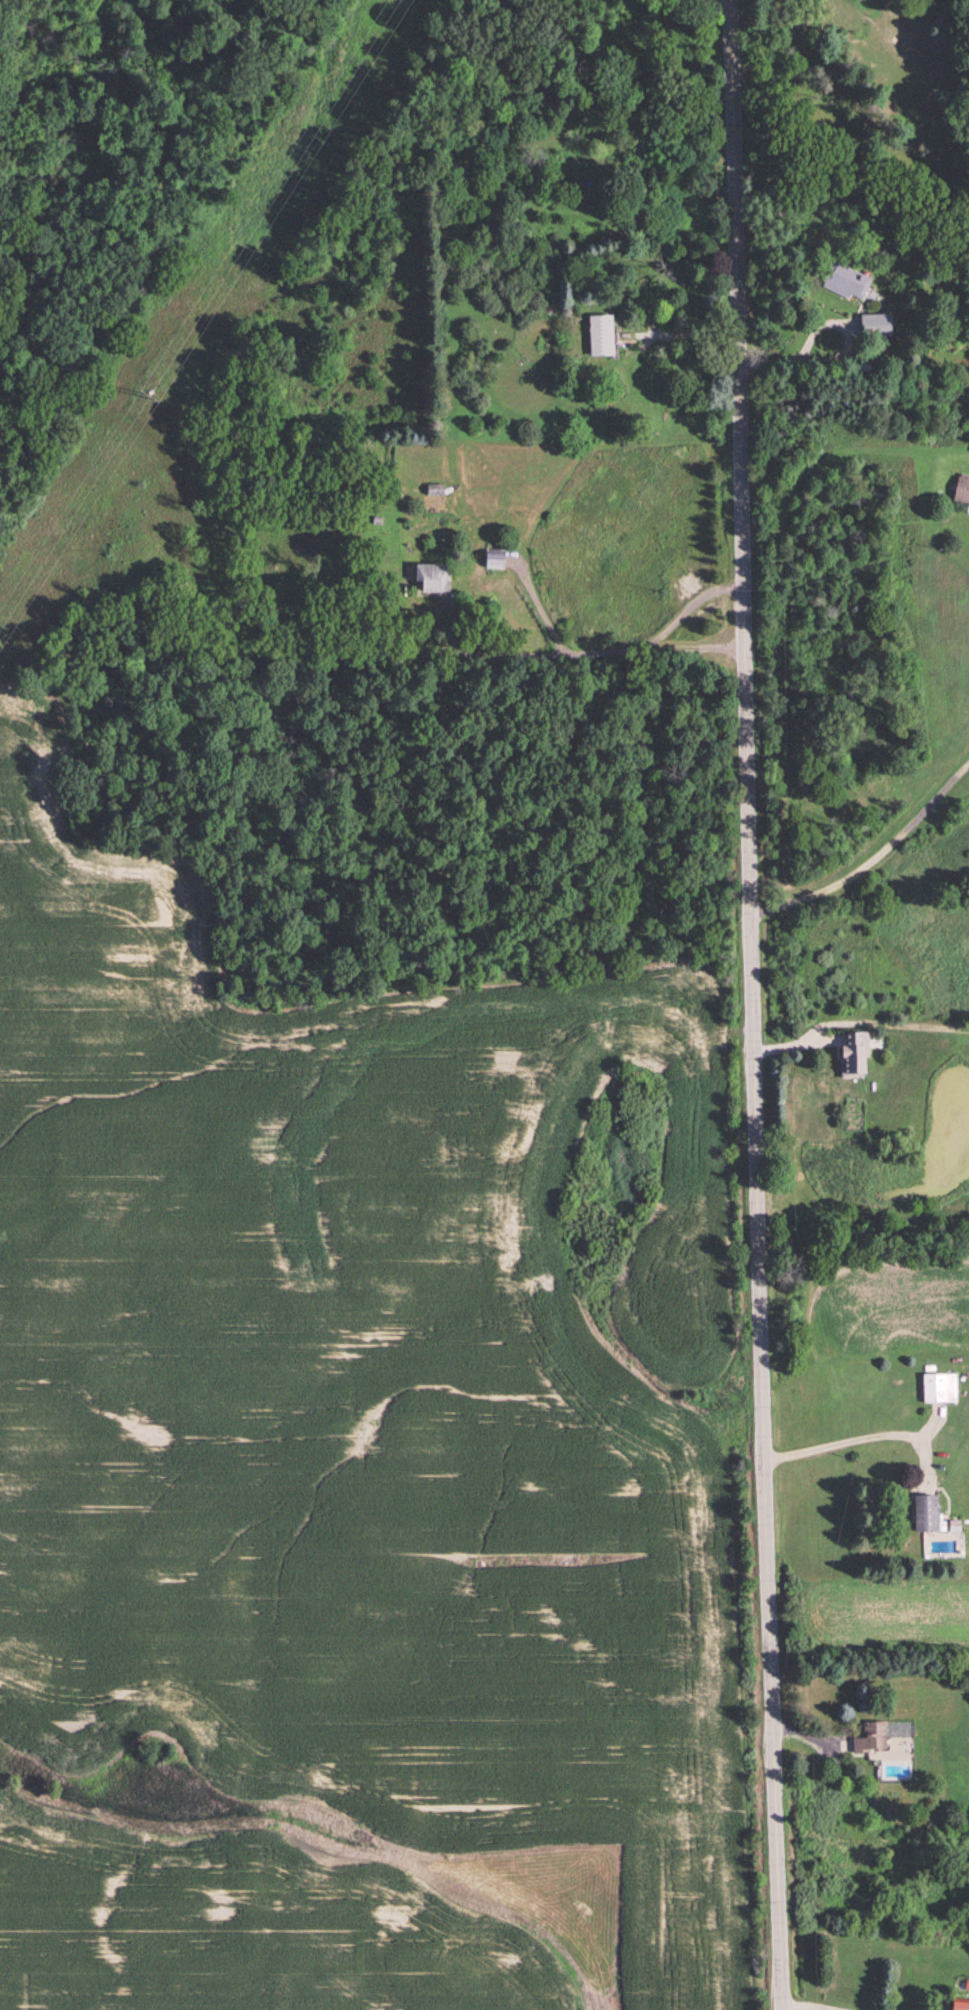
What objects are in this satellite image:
road: (723, 4)
building: (849, 281)
building: (879, 326)
road: (686, 334)
building: (604, 337)
power tower: (146, 396)
building: (963, 491)
building: (498, 559)
building: (435, 578)
road: (688, 606)
road: (602, 652)
road: (875, 857)
road: (758, 1004)
building: (856, 1055)
crop: (359, 1382)
building: (940, 1389)
road: (851, 1445)
building: (928, 1514)
building: (872, 1739)
crop: (236, 1926)
building: (962, 2005)
road: (804, 2008)

